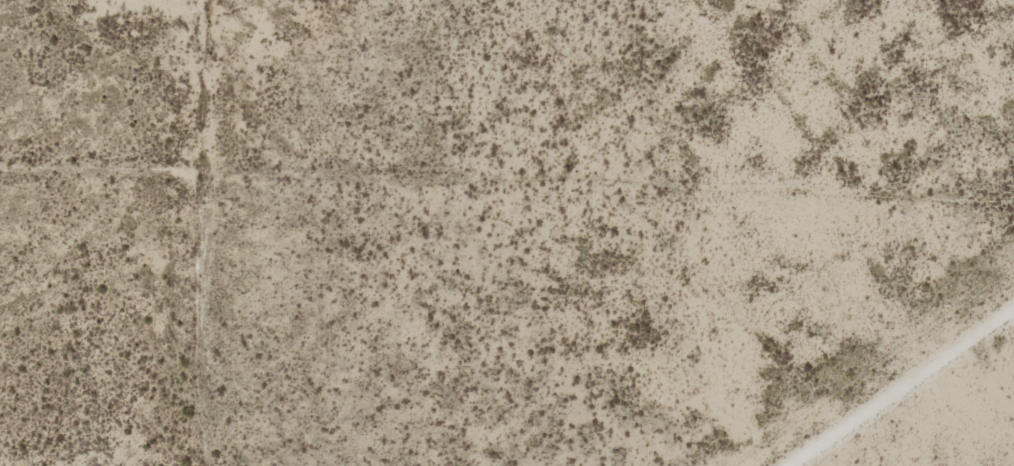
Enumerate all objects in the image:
road: (899, 385)

